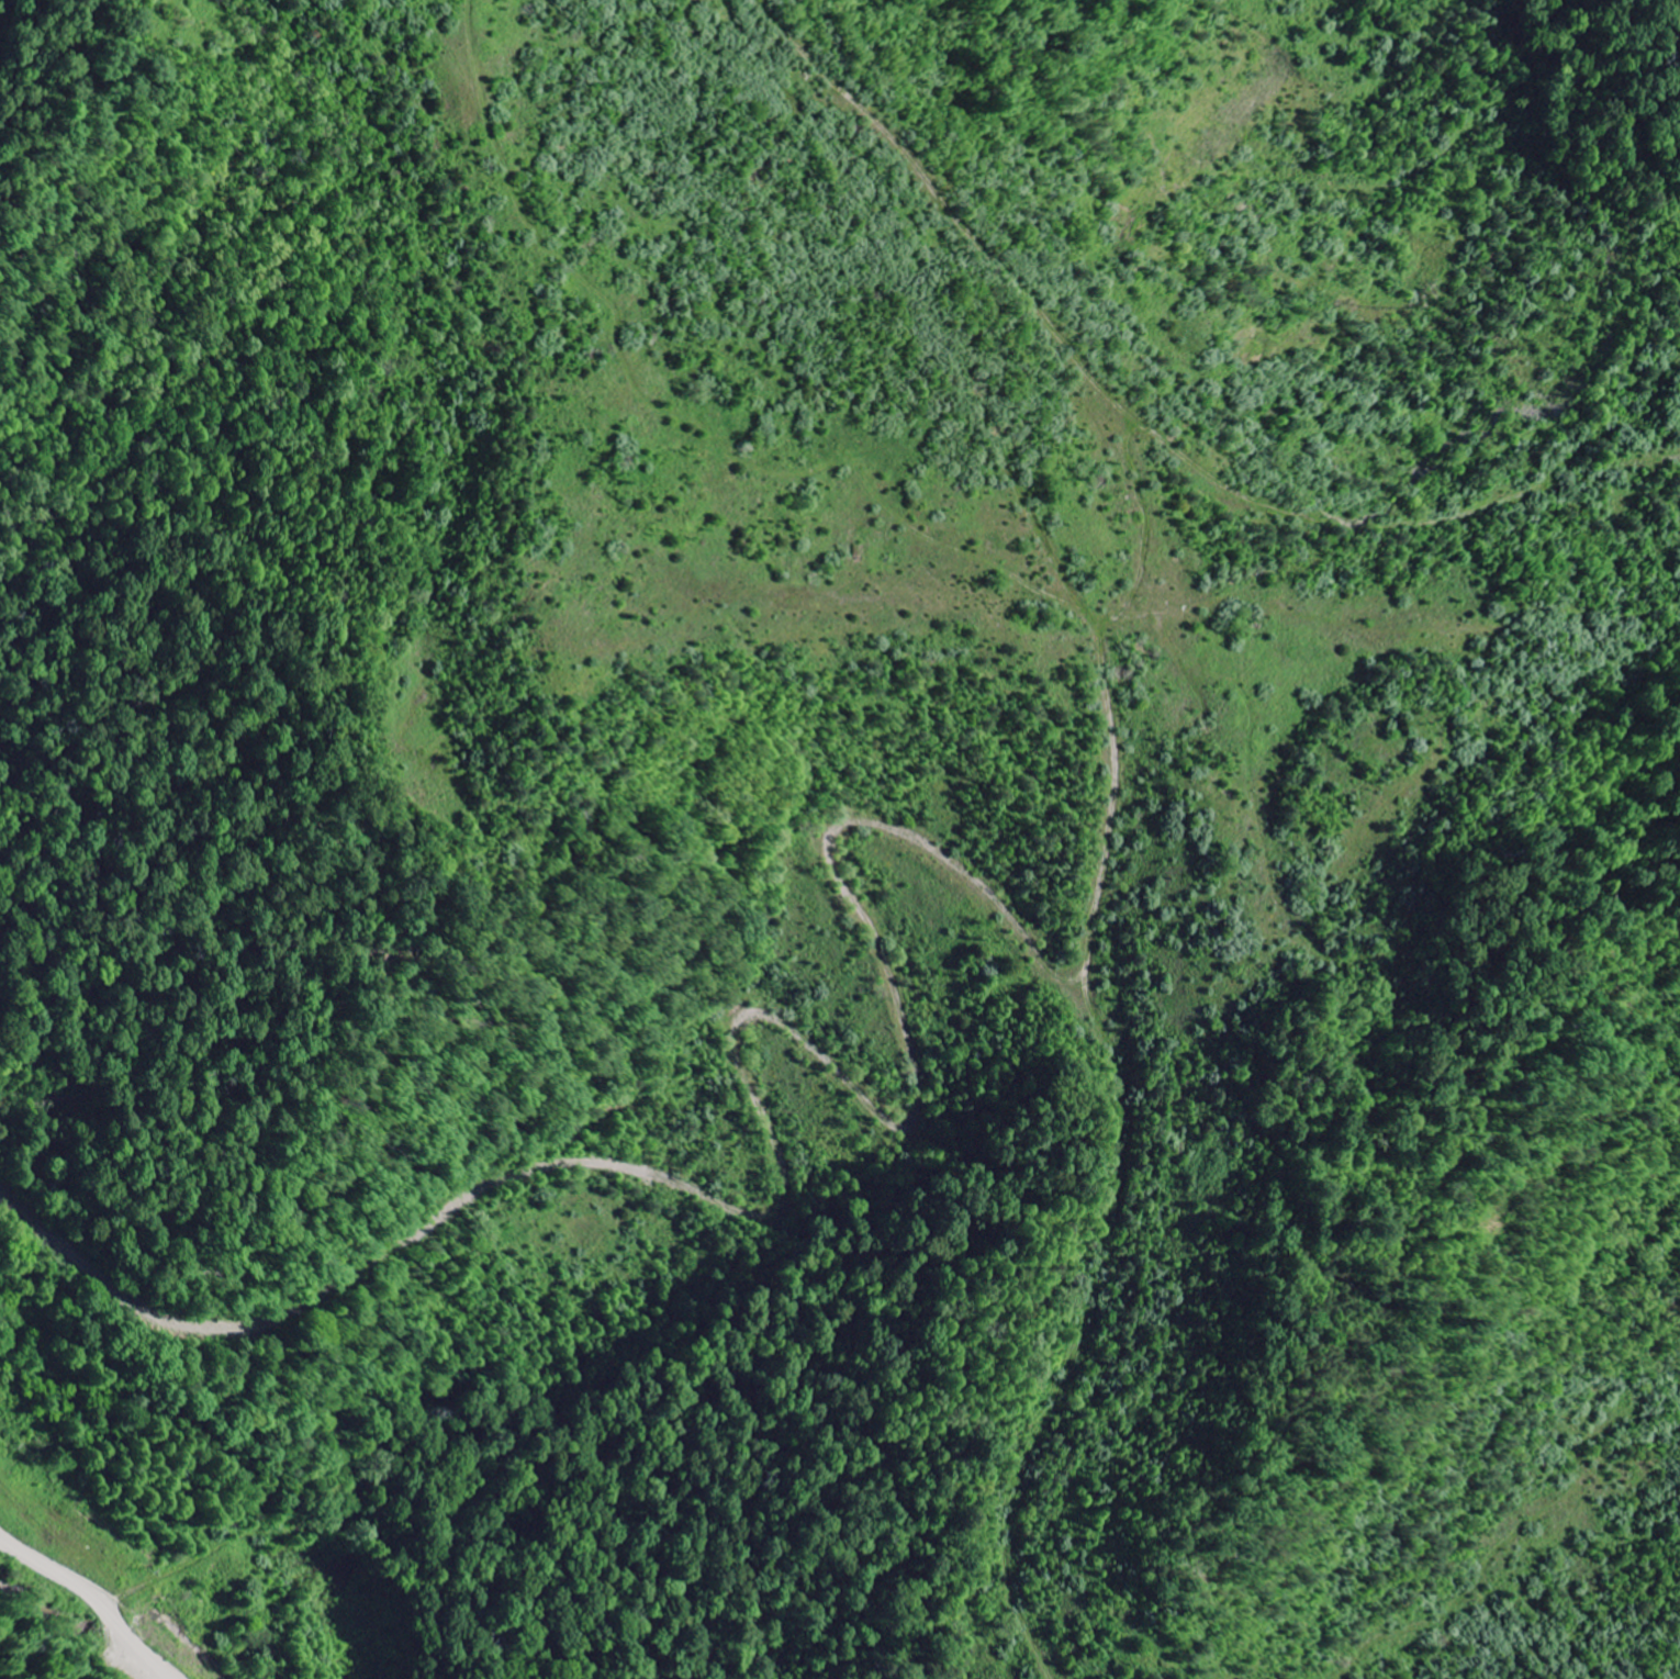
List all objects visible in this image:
road: (113, 1549)

